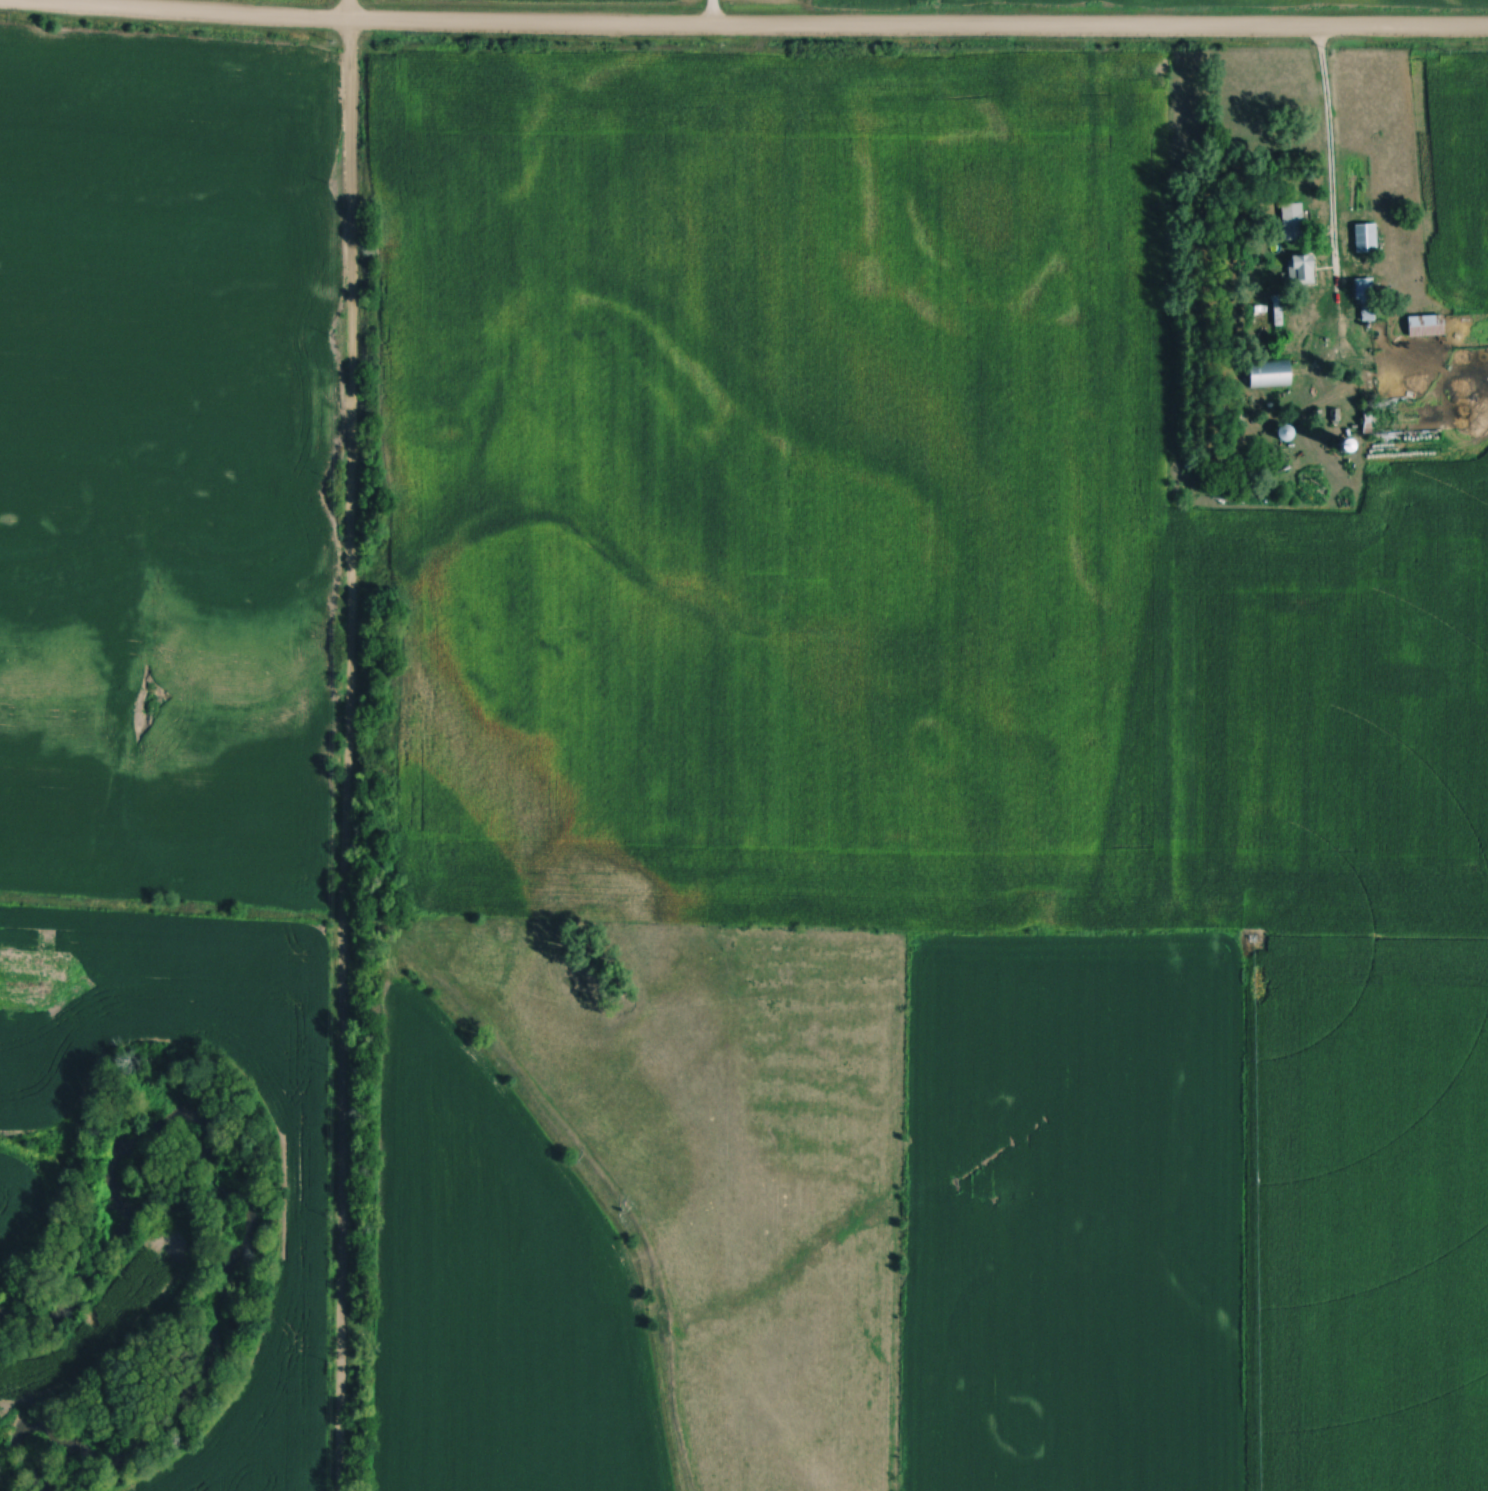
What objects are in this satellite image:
road: (712, 14)
road: (743, 29)
road: (1330, 168)
building: (1295, 223)
building: (1369, 239)
building: (1305, 272)
building: (1368, 299)
building: (1428, 327)
building: (1274, 375)
road: (349, 745)
river: (257, 1223)

